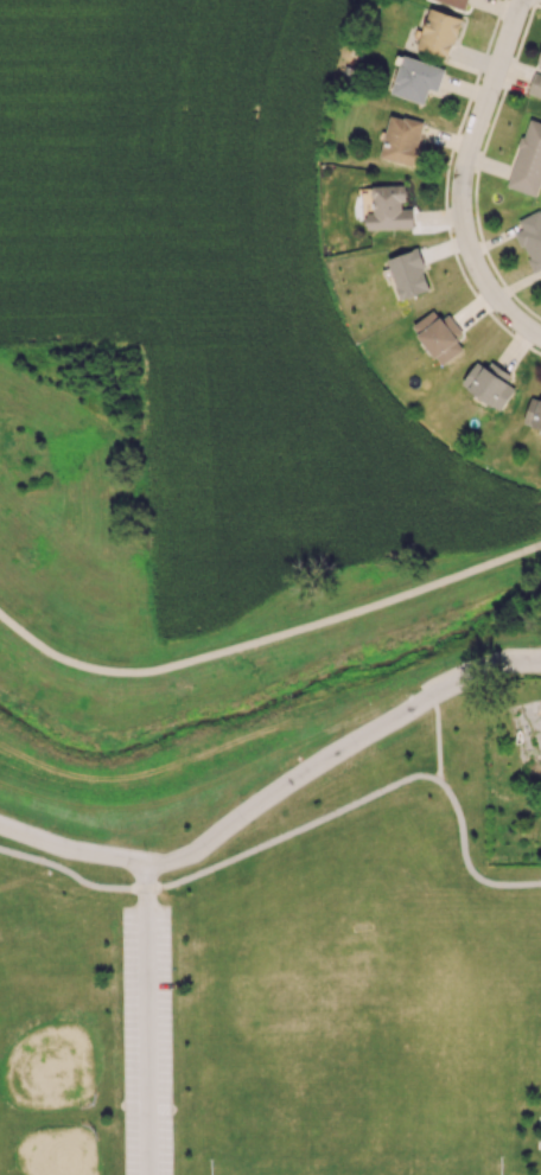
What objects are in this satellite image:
building: (456, 2)
building: (438, 33)
building: (539, 59)
building: (416, 78)
building: (535, 84)
building: (401, 139)
building: (528, 160)
road: (463, 177)
road: (445, 190)
building: (388, 209)
building: (532, 238)
building: (408, 273)
crop: (219, 296)
building: (437, 337)
building: (488, 385)
building: (534, 413)
park: (74, 441)
road: (266, 638)
road: (478, 658)
parking lot: (527, 737)
road: (435, 739)
road: (272, 791)
road: (301, 828)
park: (260, 932)
road: (149, 1018)
parking lot: (146, 1041)
park: (47, 1043)
park: (355, 1144)
park: (47, 1149)

